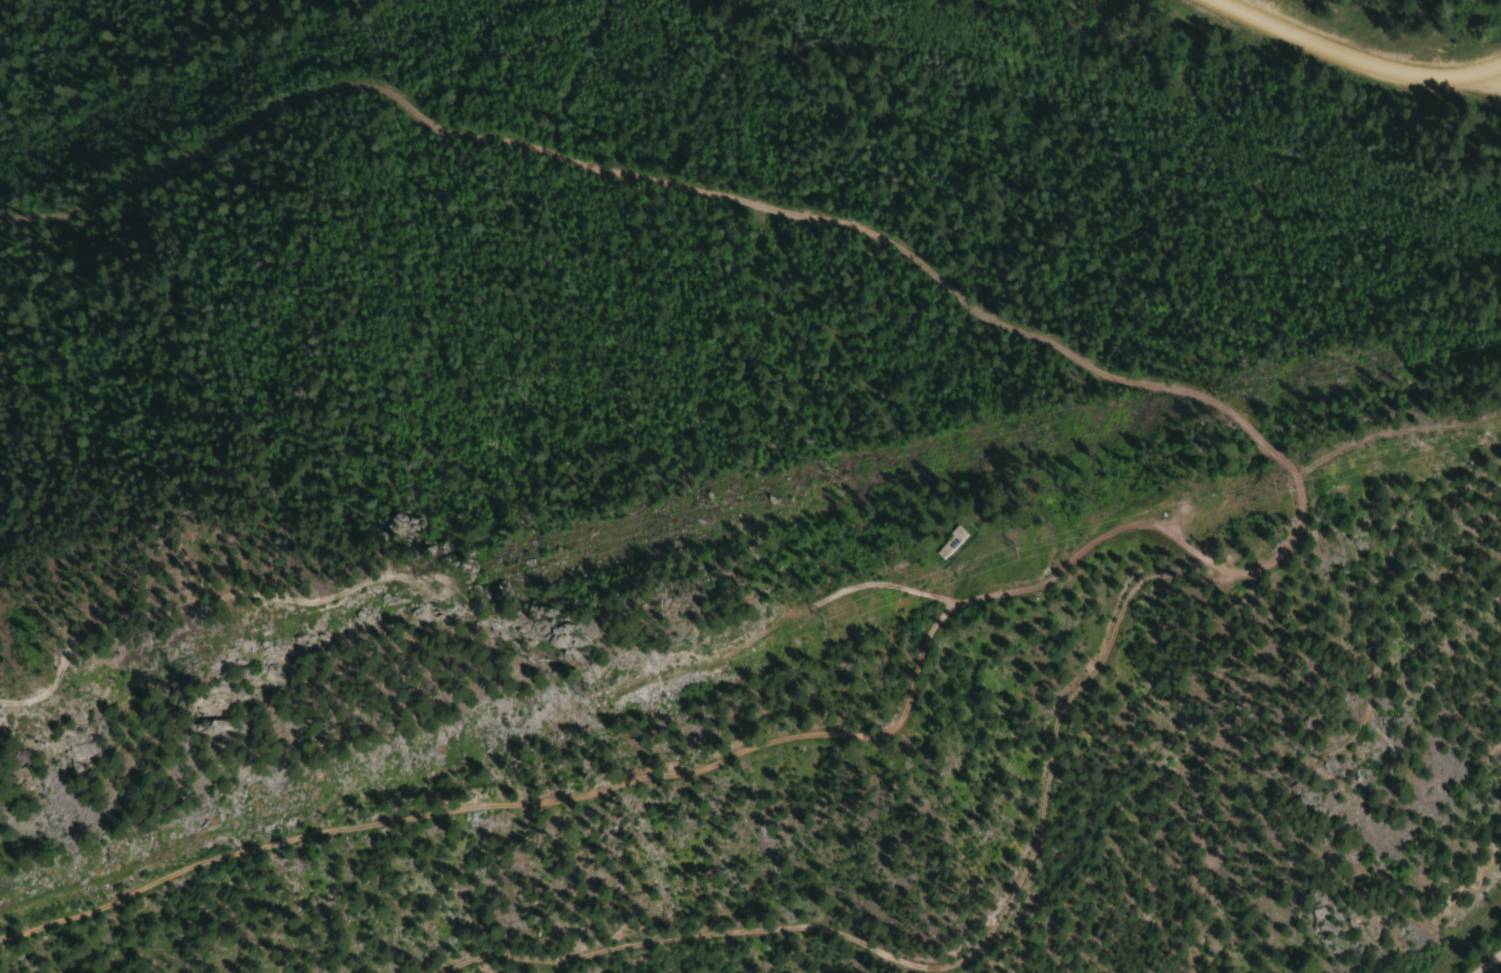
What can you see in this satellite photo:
road: (1360, 57)
power tower: (1269, 485)
building: (946, 542)
power tower: (1013, 549)
power tower: (822, 617)
power tower: (600, 694)
power tower: (117, 863)
road: (1485, 961)

